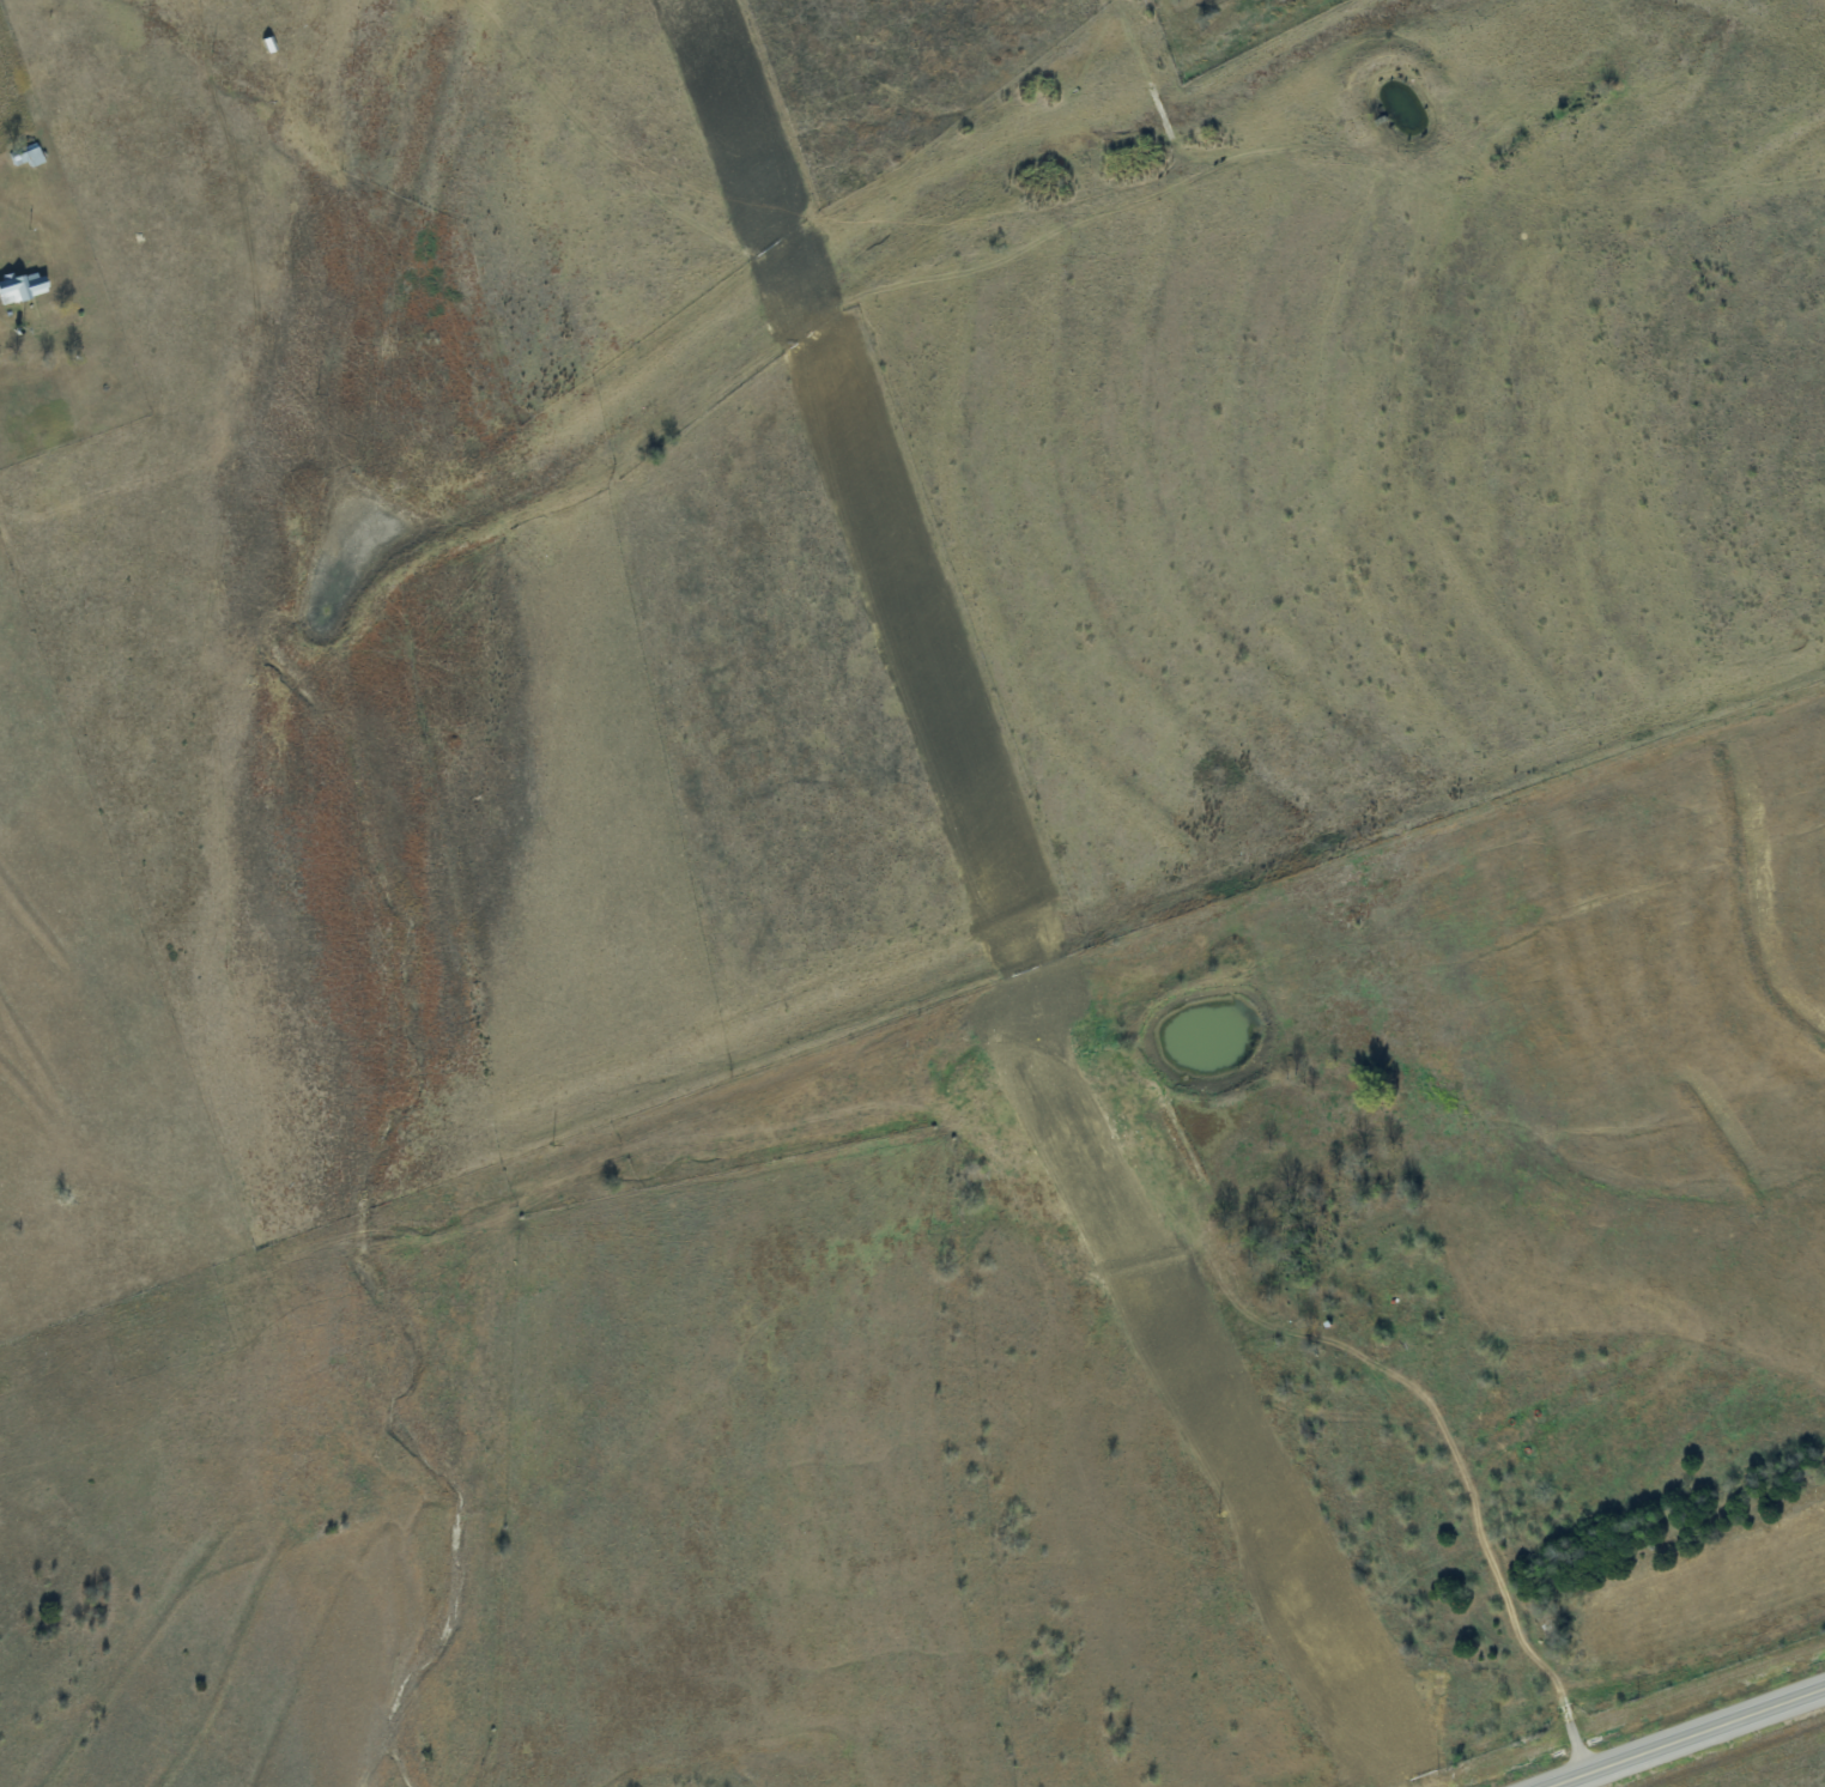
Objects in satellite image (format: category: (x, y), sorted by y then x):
building: (23, 286)
road: (12, 345)
road: (1486, 1555)
road: (1684, 1735)

